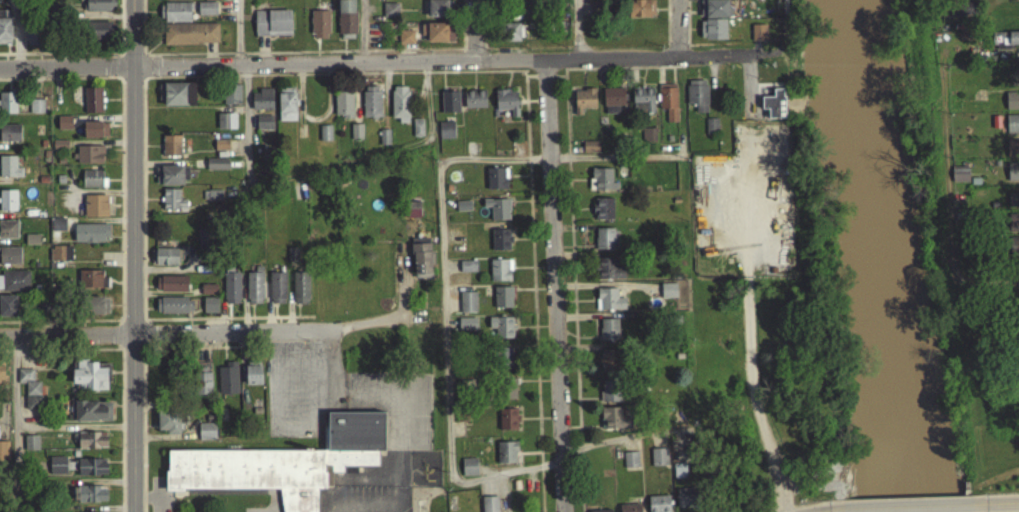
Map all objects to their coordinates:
building: (434, 0)
building: (639, 0)
building: (176, 3)
building: (211, 3)
building: (100, 9)
building: (206, 15)
building: (439, 15)
building: (640, 15)
building: (714, 15)
building: (175, 19)
building: (346, 23)
road: (679, 28)
building: (272, 29)
road: (475, 30)
road: (578, 30)
building: (319, 31)
road: (365, 31)
road: (239, 32)
building: (712, 36)
building: (5, 37)
building: (98, 37)
building: (439, 39)
building: (511, 39)
building: (757, 39)
road: (786, 39)
building: (190, 40)
building: (32, 42)
building: (405, 43)
building: (1013, 45)
building: (1000, 47)
road: (649, 57)
road: (272, 63)
building: (178, 100)
building: (231, 101)
building: (696, 101)
building: (474, 105)
building: (261, 106)
building: (642, 106)
building: (92, 107)
building: (583, 107)
building: (613, 107)
building: (1012, 107)
building: (371, 108)
building: (449, 108)
building: (506, 108)
building: (7, 109)
building: (668, 109)
building: (399, 110)
building: (286, 111)
building: (343, 111)
building: (774, 111)
building: (36, 112)
road: (248, 124)
building: (225, 128)
building: (64, 129)
building: (264, 129)
building: (1012, 130)
building: (711, 131)
building: (417, 134)
building: (95, 136)
building: (445, 136)
building: (356, 138)
building: (9, 139)
building: (324, 139)
building: (648, 141)
building: (384, 143)
building: (1013, 145)
building: (220, 151)
building: (171, 152)
building: (590, 153)
building: (89, 161)
building: (1014, 169)
building: (216, 171)
building: (9, 173)
building: (1012, 179)
building: (959, 181)
building: (93, 185)
building: (496, 185)
building: (602, 186)
building: (1014, 197)
building: (211, 201)
building: (1013, 206)
building: (8, 207)
building: (172, 207)
building: (95, 212)
building: (411, 215)
building: (497, 215)
building: (602, 215)
building: (1014, 220)
building: (1012, 229)
building: (8, 236)
building: (91, 239)
building: (1014, 242)
building: (203, 243)
building: (604, 245)
building: (500, 246)
building: (1012, 250)
road: (136, 256)
river: (884, 256)
building: (292, 260)
building: (9, 262)
building: (165, 263)
building: (421, 264)
building: (467, 273)
building: (608, 276)
building: (500, 277)
building: (91, 285)
road: (555, 285)
building: (14, 287)
building: (171, 290)
building: (254, 293)
building: (277, 294)
building: (300, 294)
building: (231, 295)
building: (208, 296)
building: (668, 297)
building: (502, 304)
building: (608, 306)
building: (467, 308)
building: (209, 311)
building: (8, 312)
building: (96, 312)
building: (171, 312)
road: (395, 313)
road: (446, 322)
building: (467, 330)
building: (501, 333)
road: (166, 334)
building: (608, 336)
building: (609, 367)
building: (2, 381)
building: (91, 381)
building: (253, 381)
building: (202, 385)
building: (227, 385)
building: (29, 395)
building: (507, 395)
building: (611, 398)
road: (16, 412)
building: (90, 418)
building: (611, 424)
building: (507, 425)
building: (168, 428)
building: (206, 438)
building: (92, 447)
building: (30, 449)
building: (3, 457)
building: (506, 459)
building: (288, 460)
building: (658, 463)
building: (630, 466)
building: (57, 472)
building: (91, 473)
building: (468, 473)
building: (679, 477)
road: (17, 491)
parking lot: (370, 498)
building: (89, 500)
road: (1003, 500)
building: (686, 503)
road: (909, 504)
road: (360, 505)
building: (489, 507)
building: (658, 507)
road: (823, 510)
building: (630, 511)

